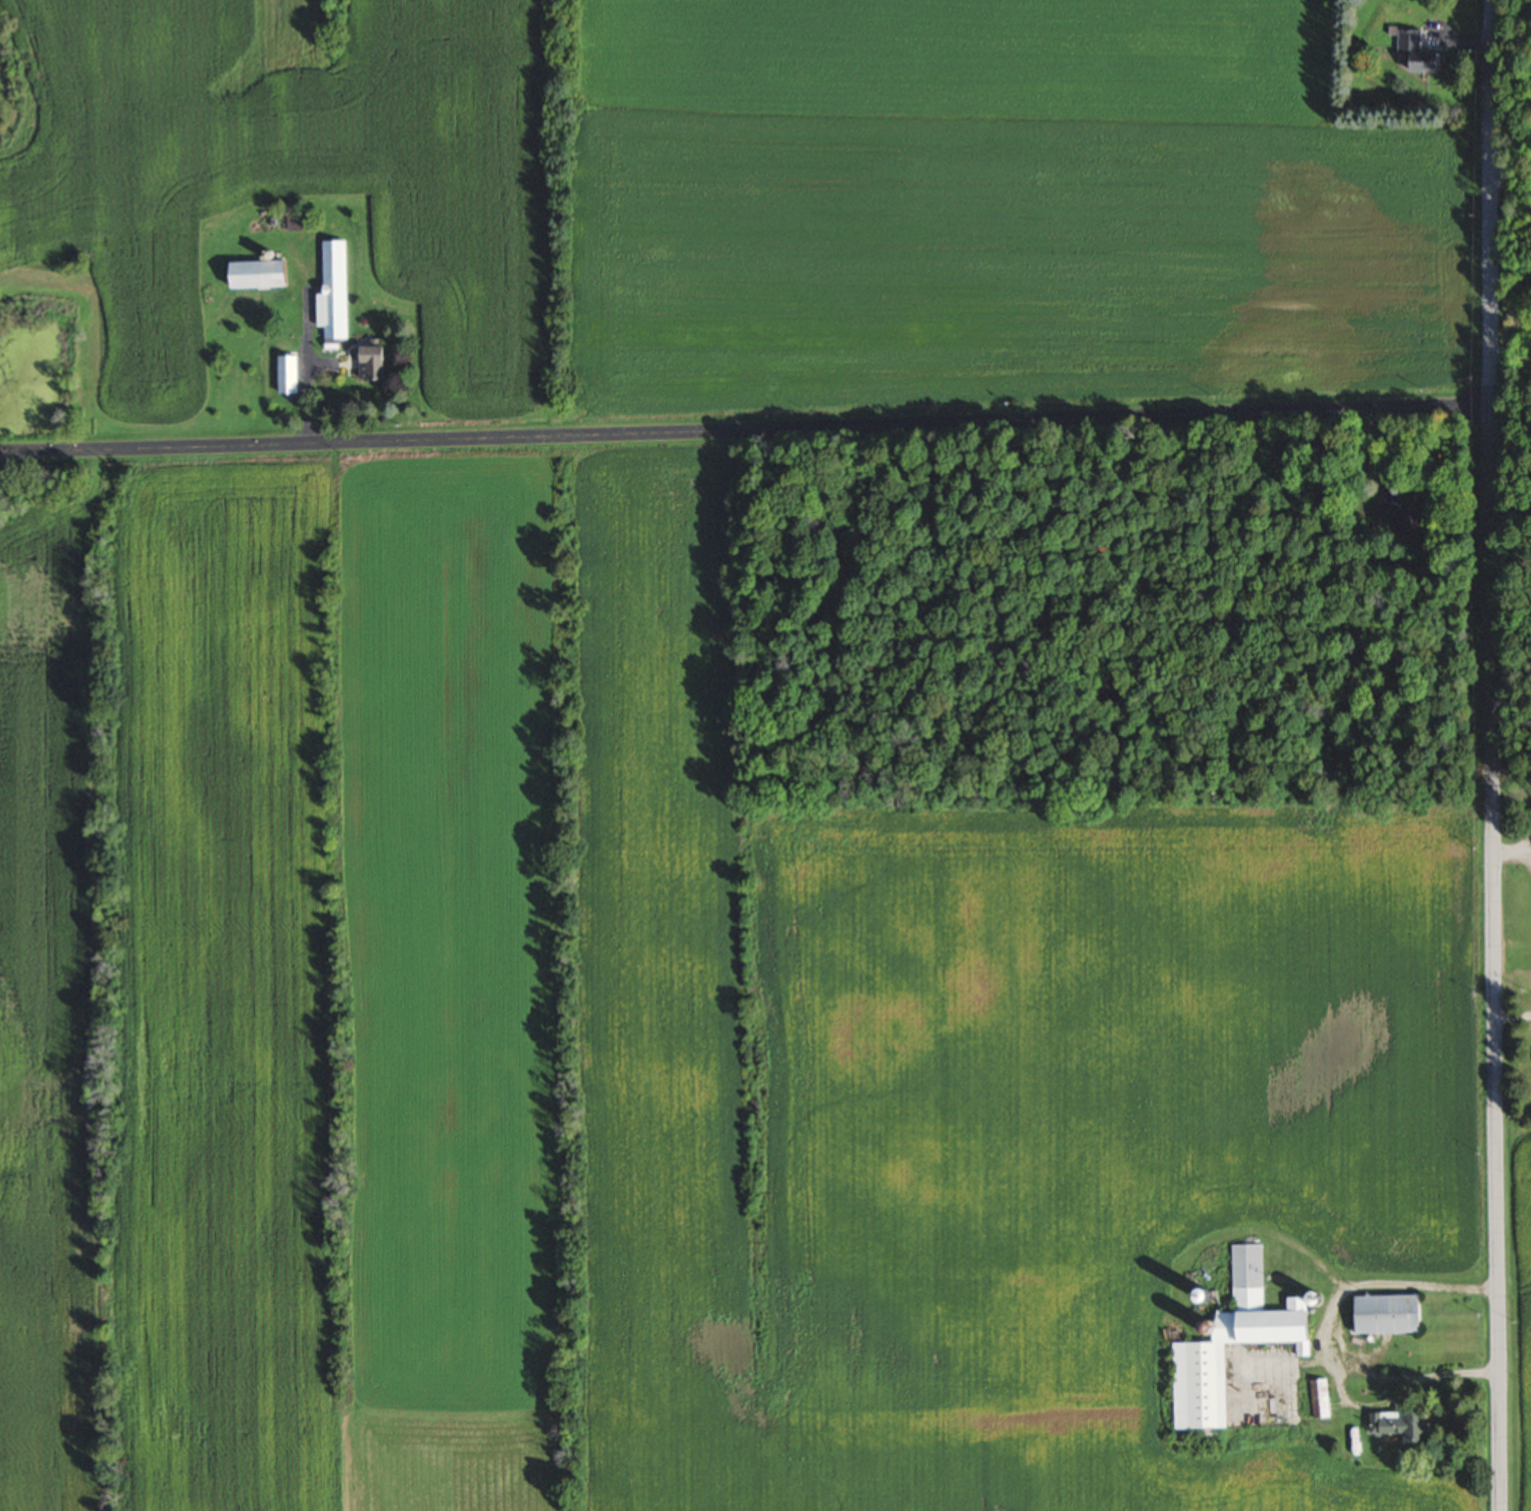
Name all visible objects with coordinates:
building: (1413, 52)
road: (1510, 170)
building: (264, 272)
building: (333, 290)
building: (371, 362)
building: (286, 372)
road: (745, 430)
building: (1406, 513)
road: (1493, 755)
building: (1381, 1312)
building: (1230, 1340)
building: (1319, 1397)
building: (1392, 1422)

